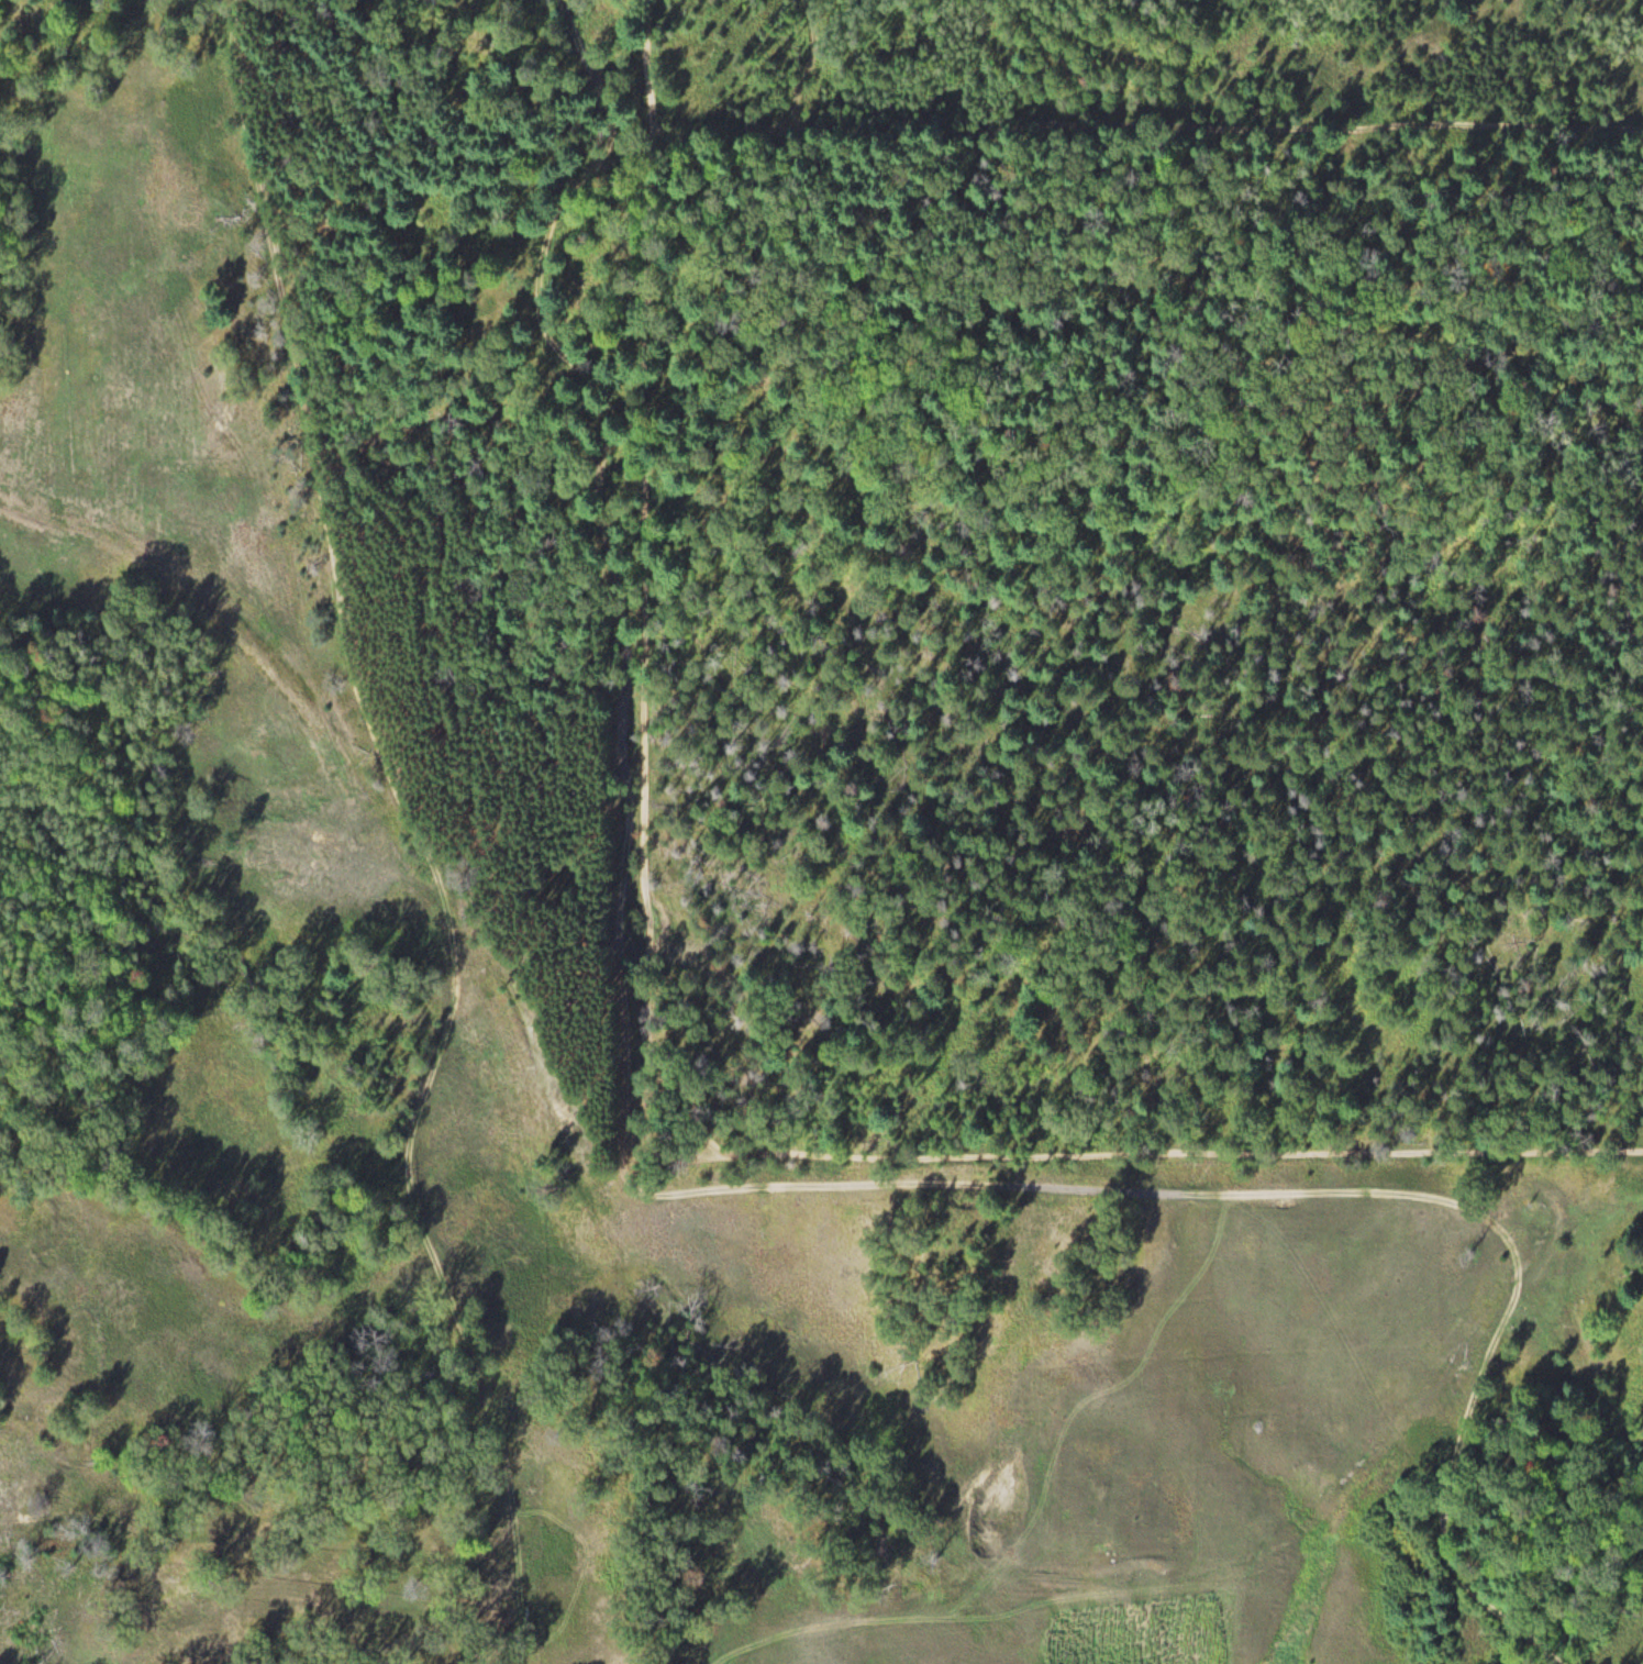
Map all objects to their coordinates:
road: (1334, 126)
road: (286, 399)
road: (396, 813)
road: (1037, 843)
road: (417, 1255)

